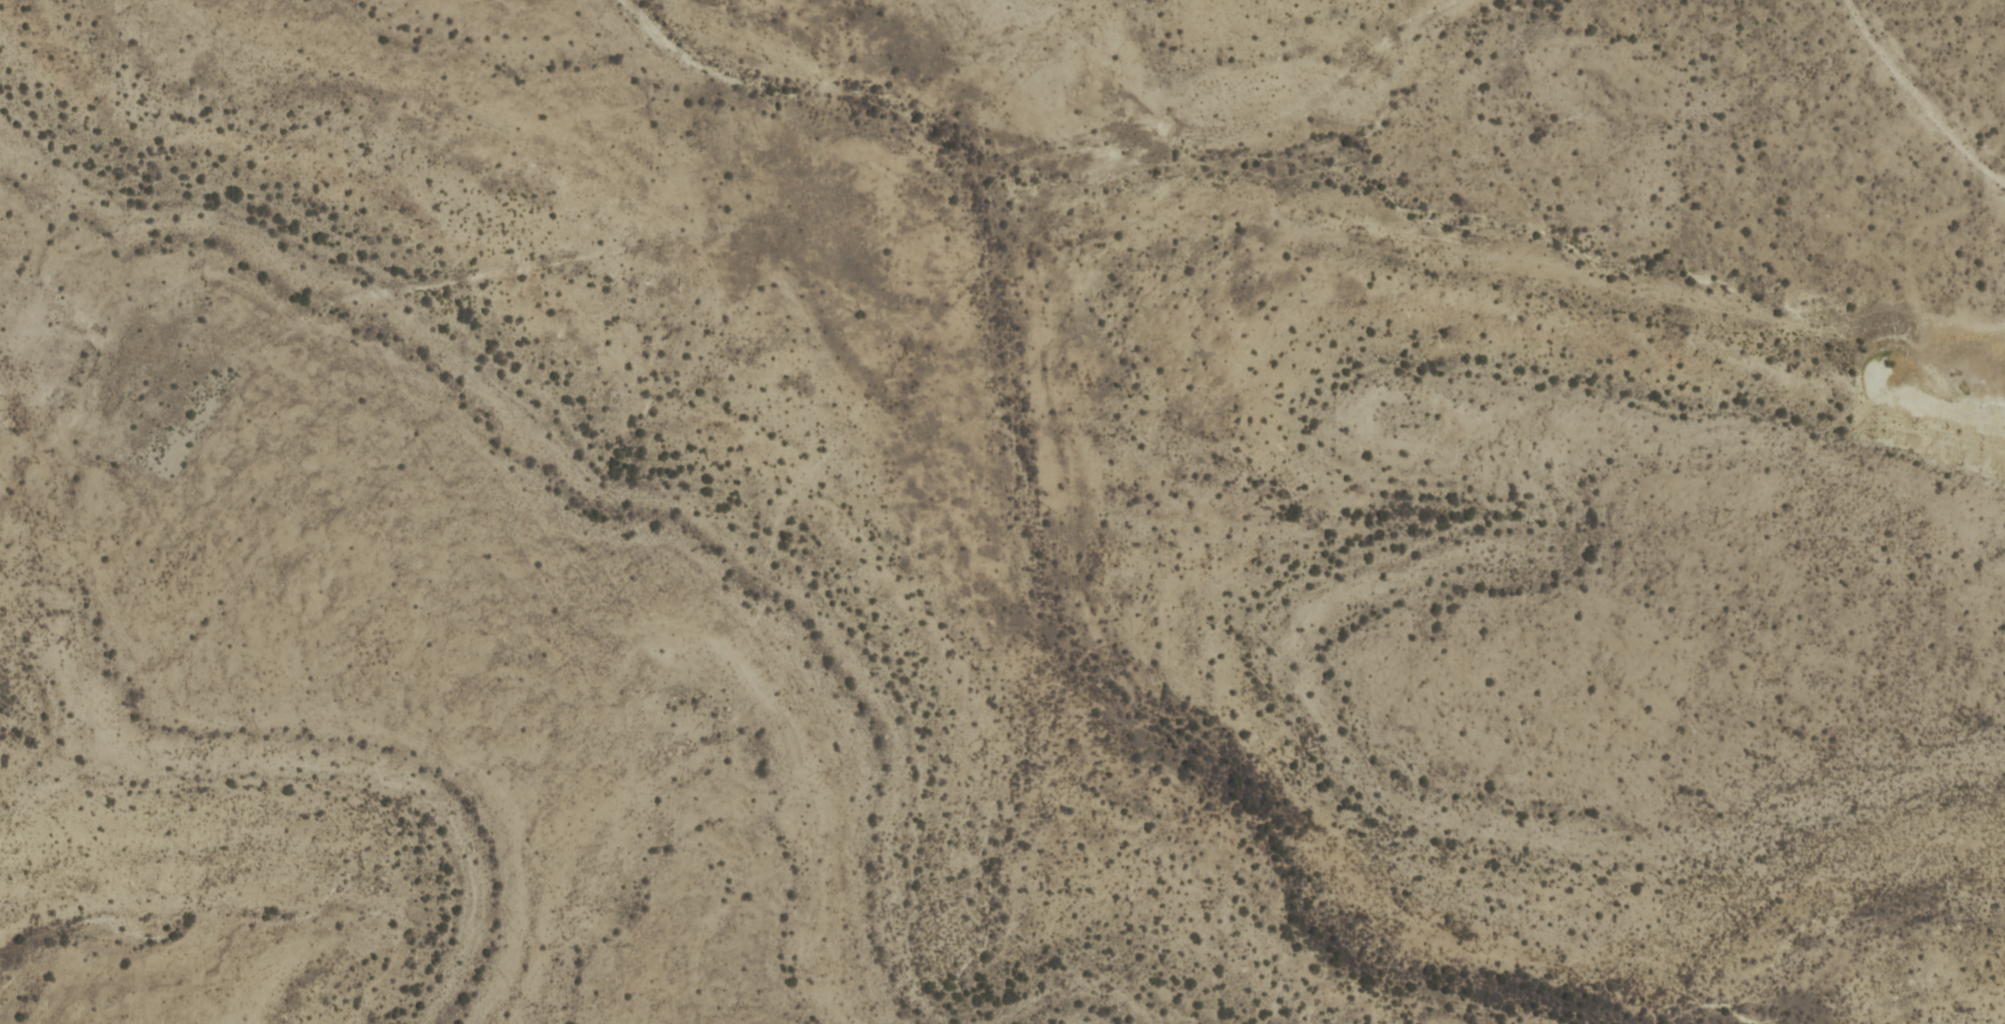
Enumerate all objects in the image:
road: (1919, 98)
park: (1000, 495)

